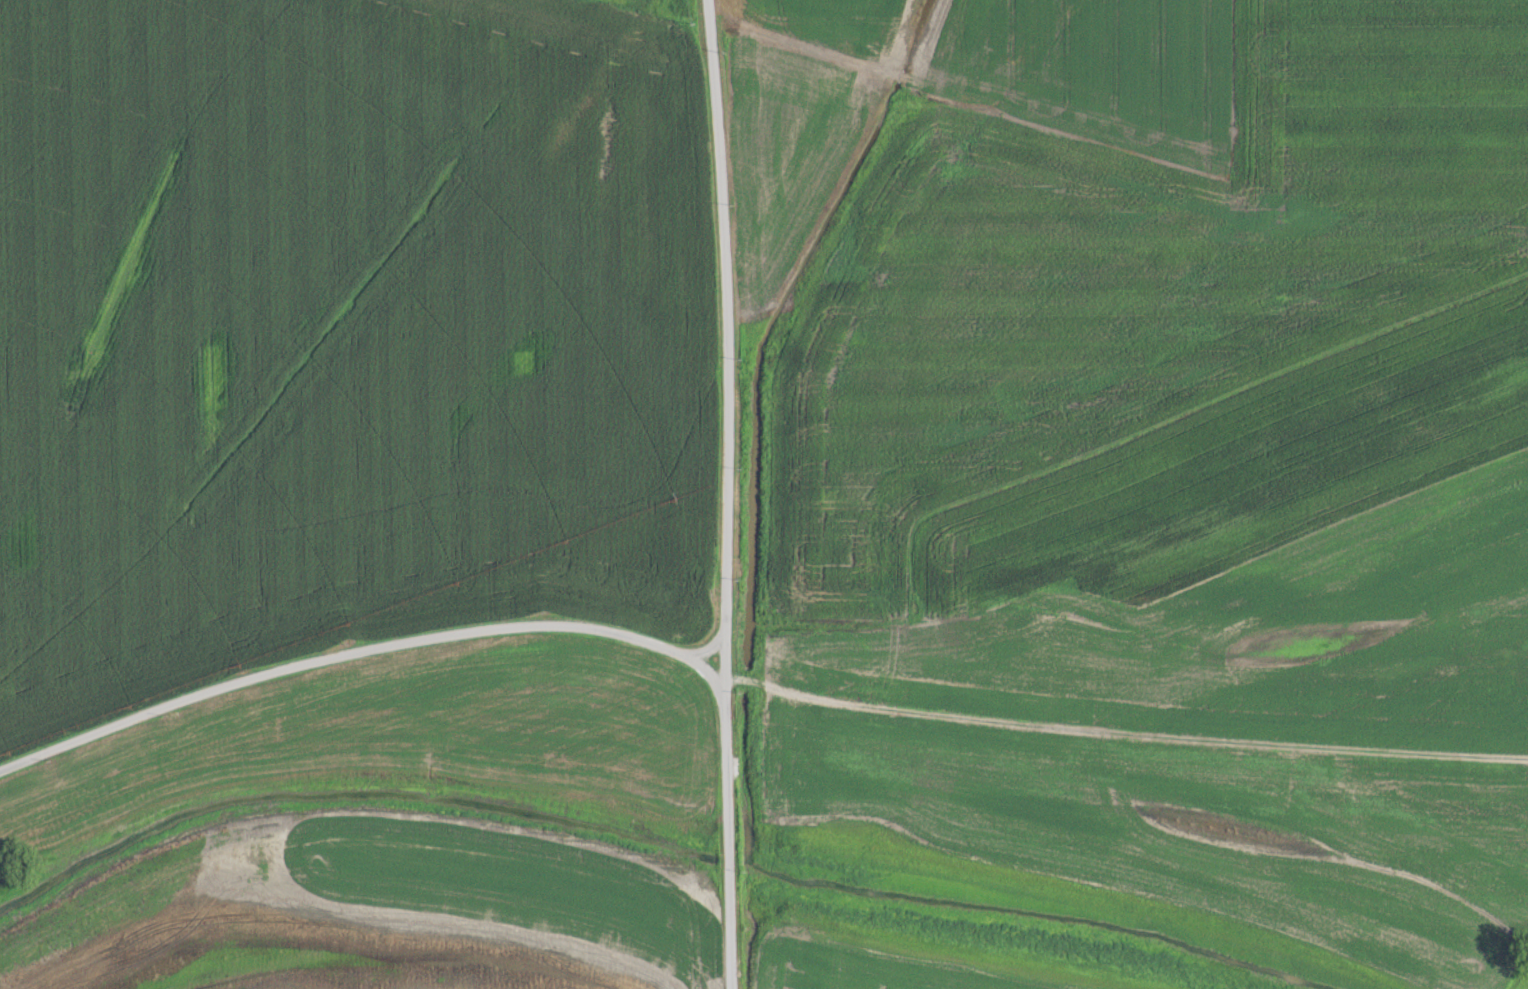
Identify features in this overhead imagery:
road: (725, 494)
road: (708, 641)
road: (366, 647)

